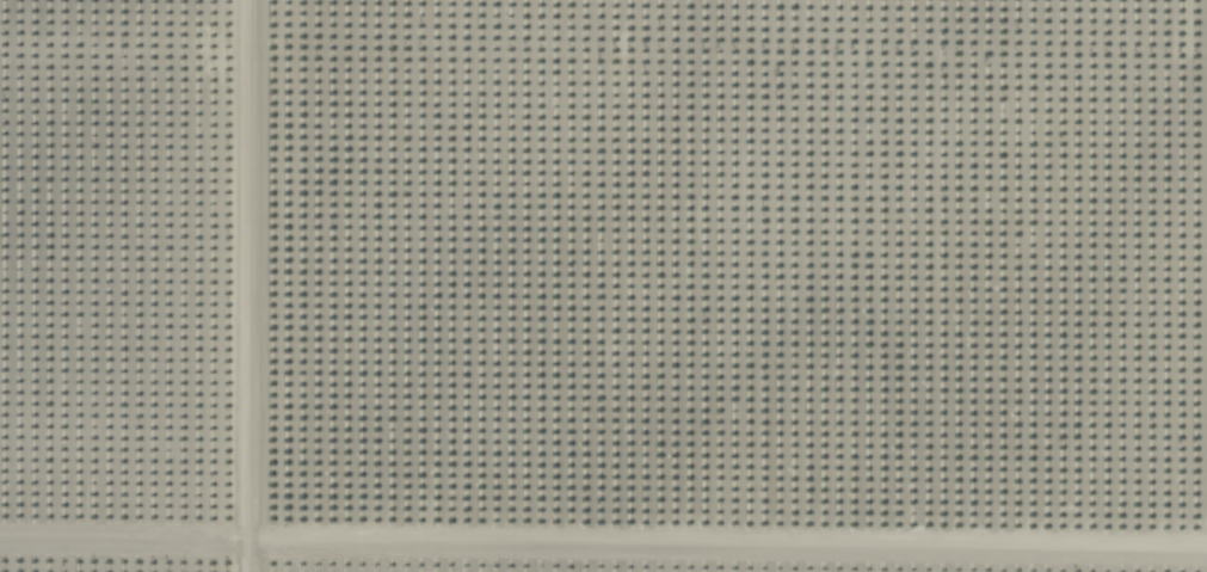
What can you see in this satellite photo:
road: (245, 285)
crop: (603, 285)

